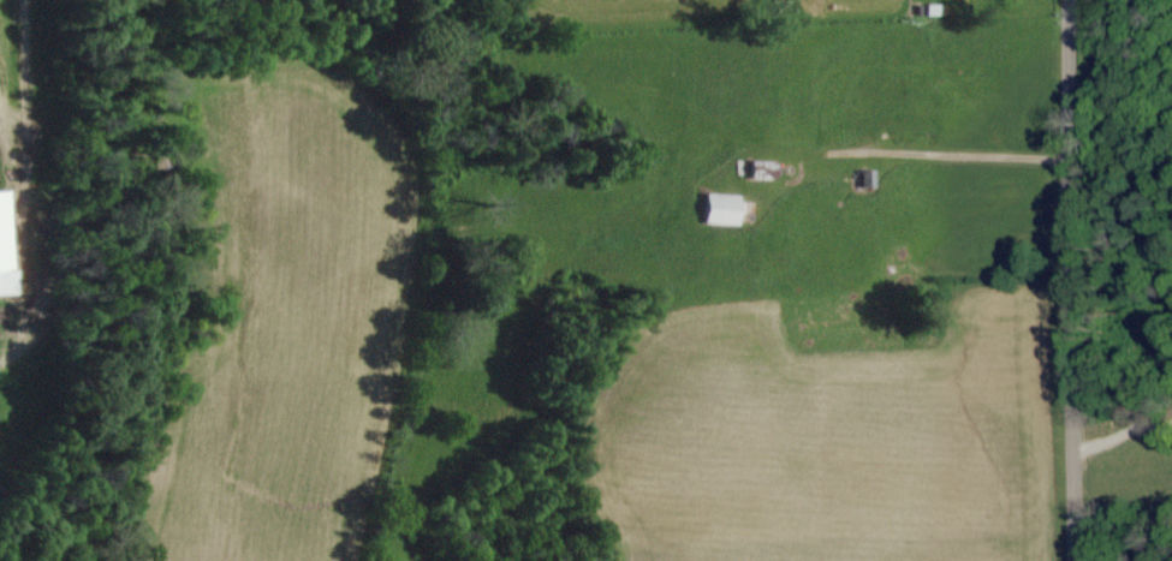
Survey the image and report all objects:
road: (975, 154)
building: (727, 210)
building: (7, 245)
road: (1088, 280)

